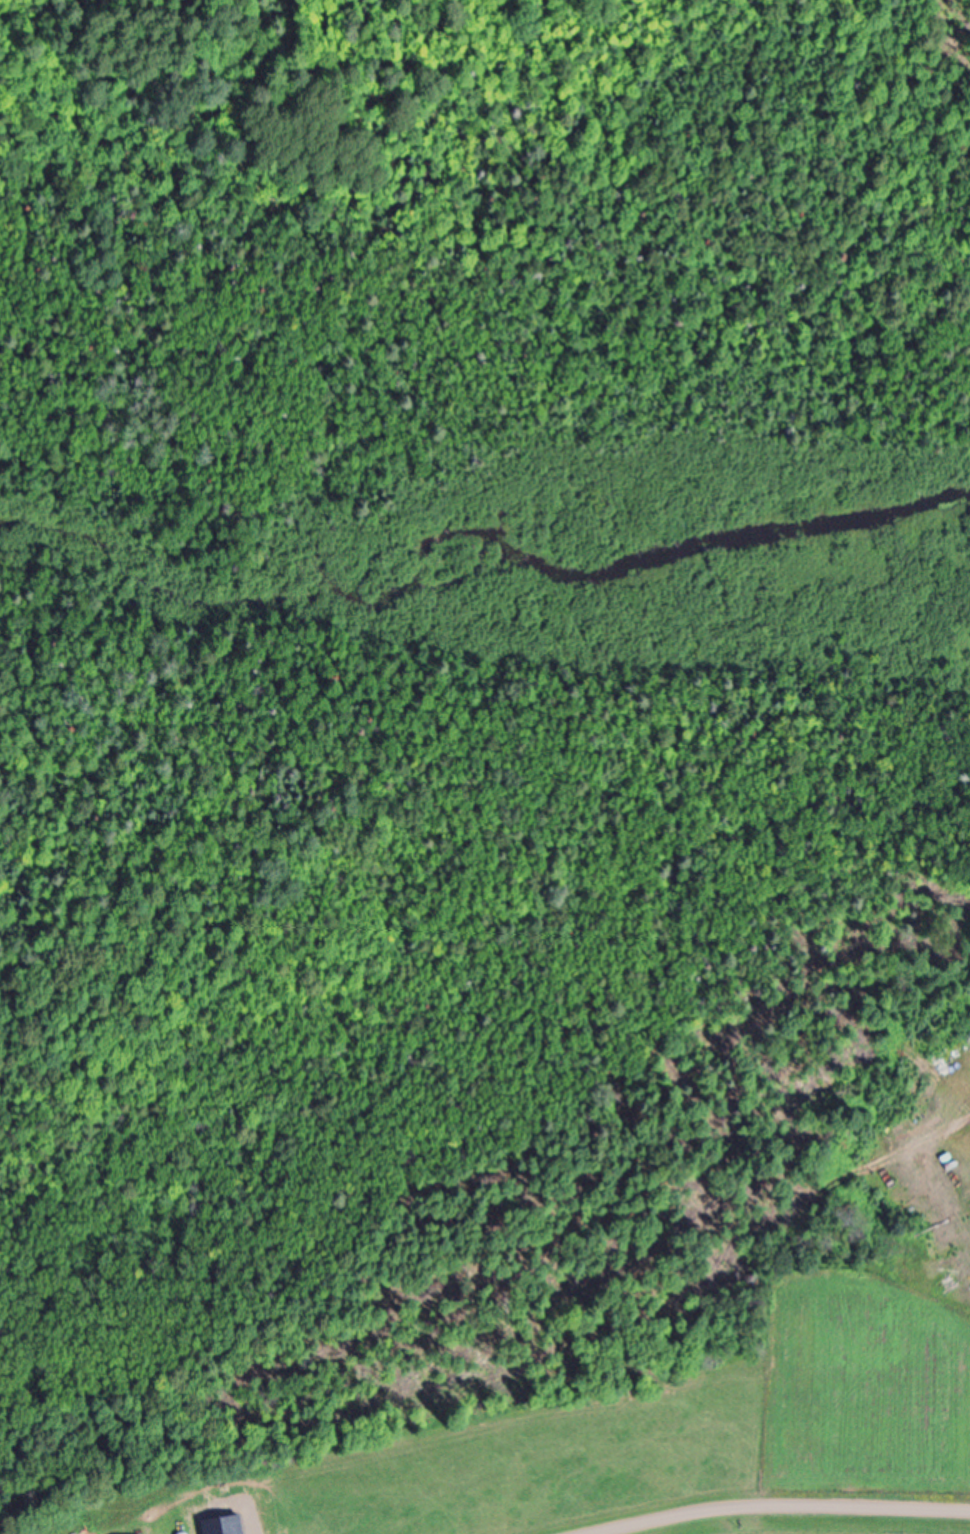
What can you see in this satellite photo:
road: (786, 1507)

